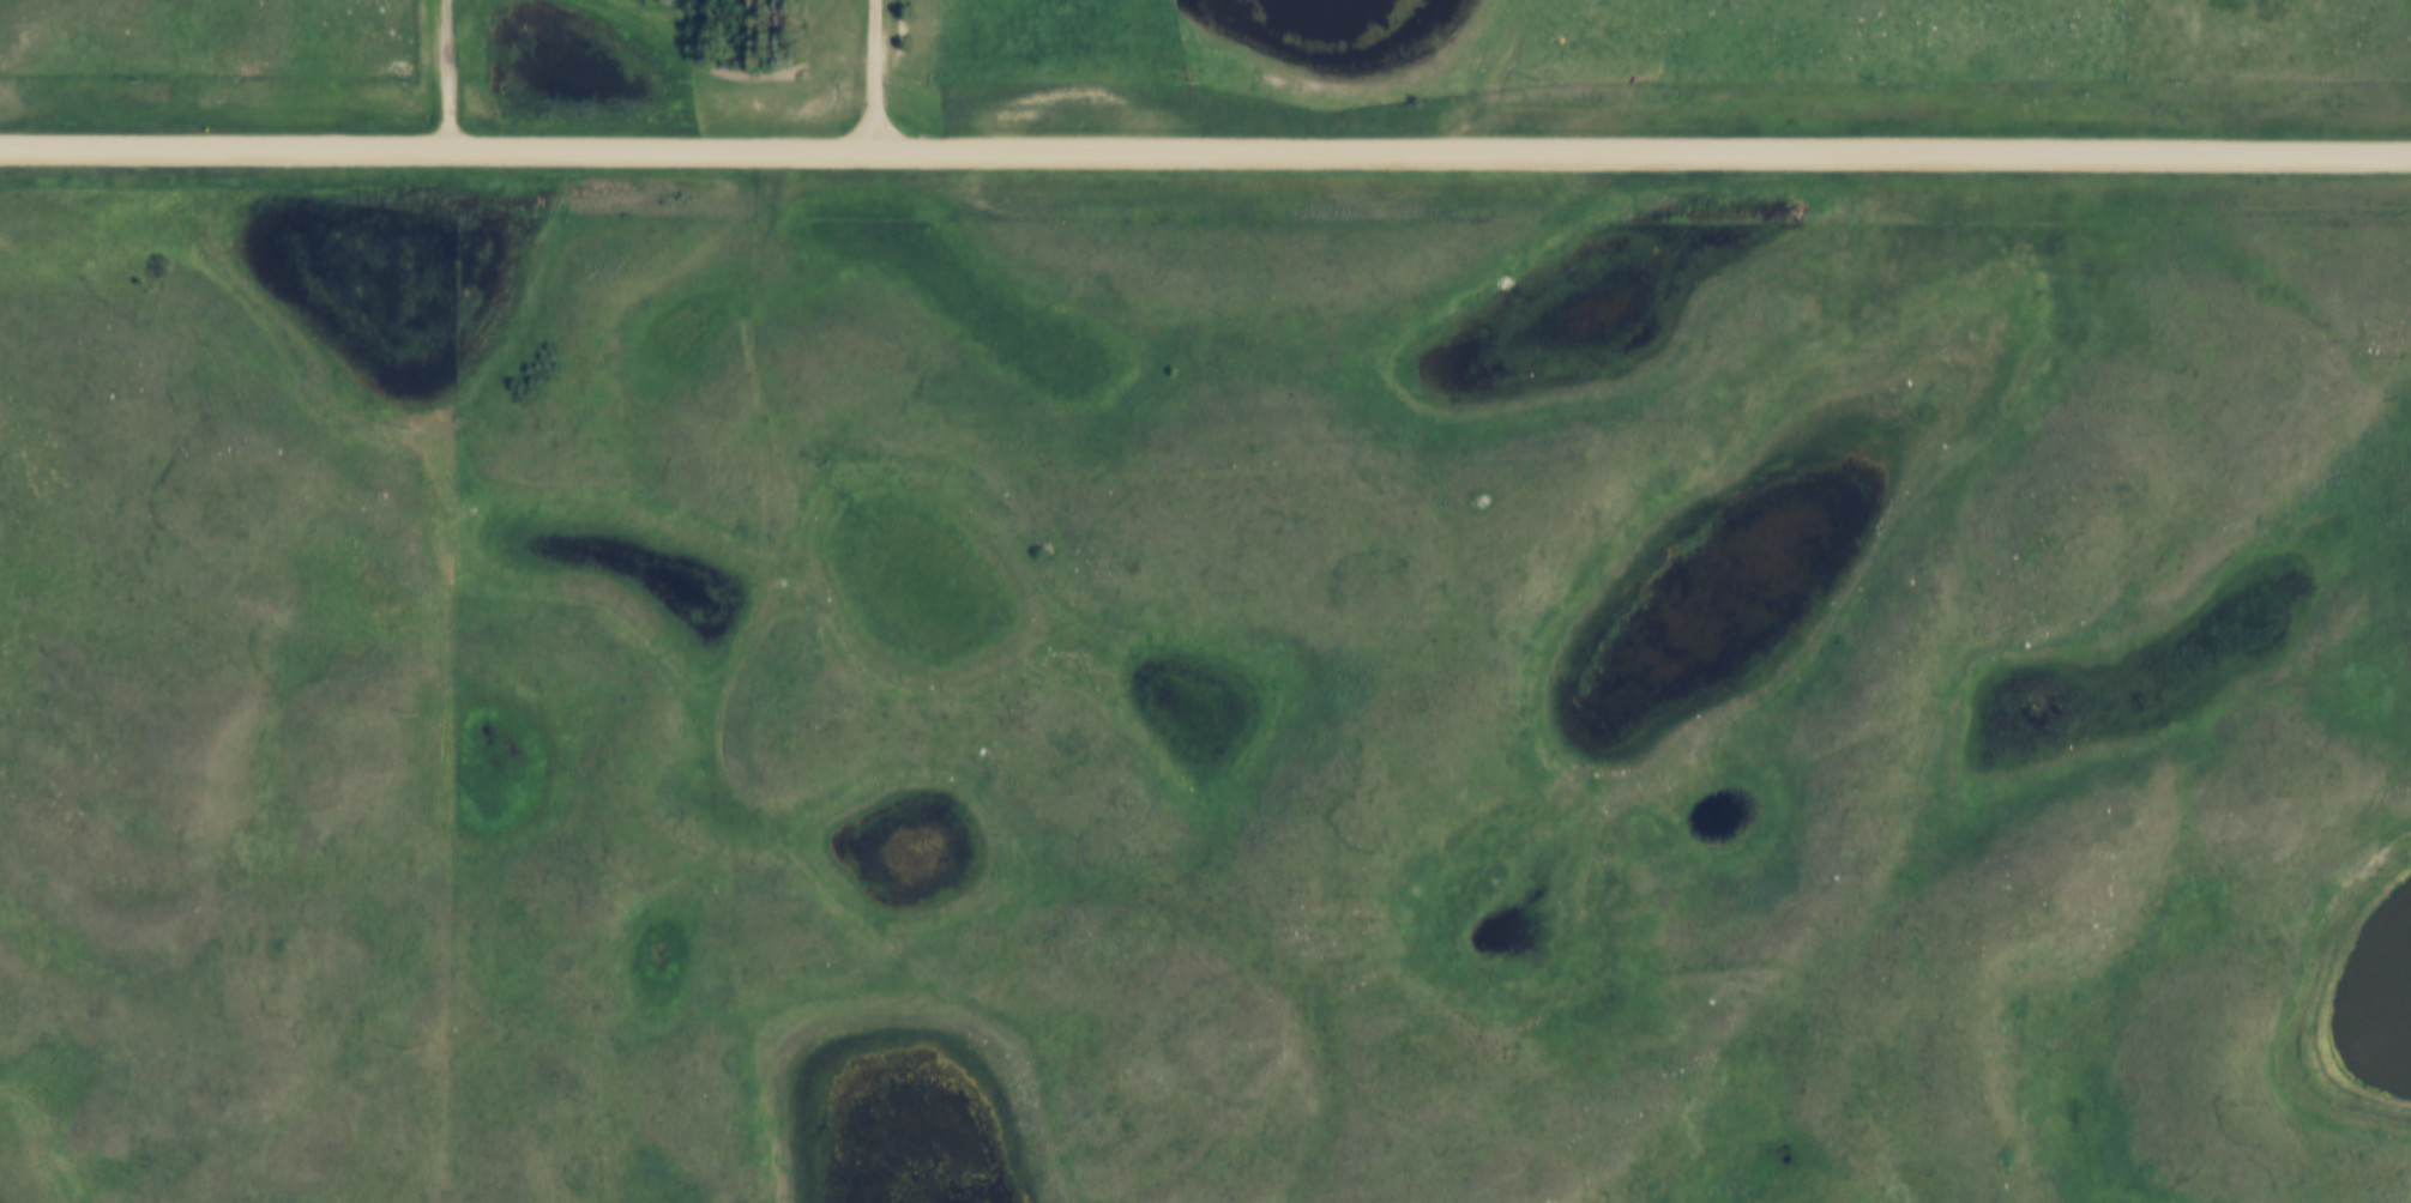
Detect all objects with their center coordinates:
road: (447, 73)
road: (869, 74)
road: (1205, 149)

